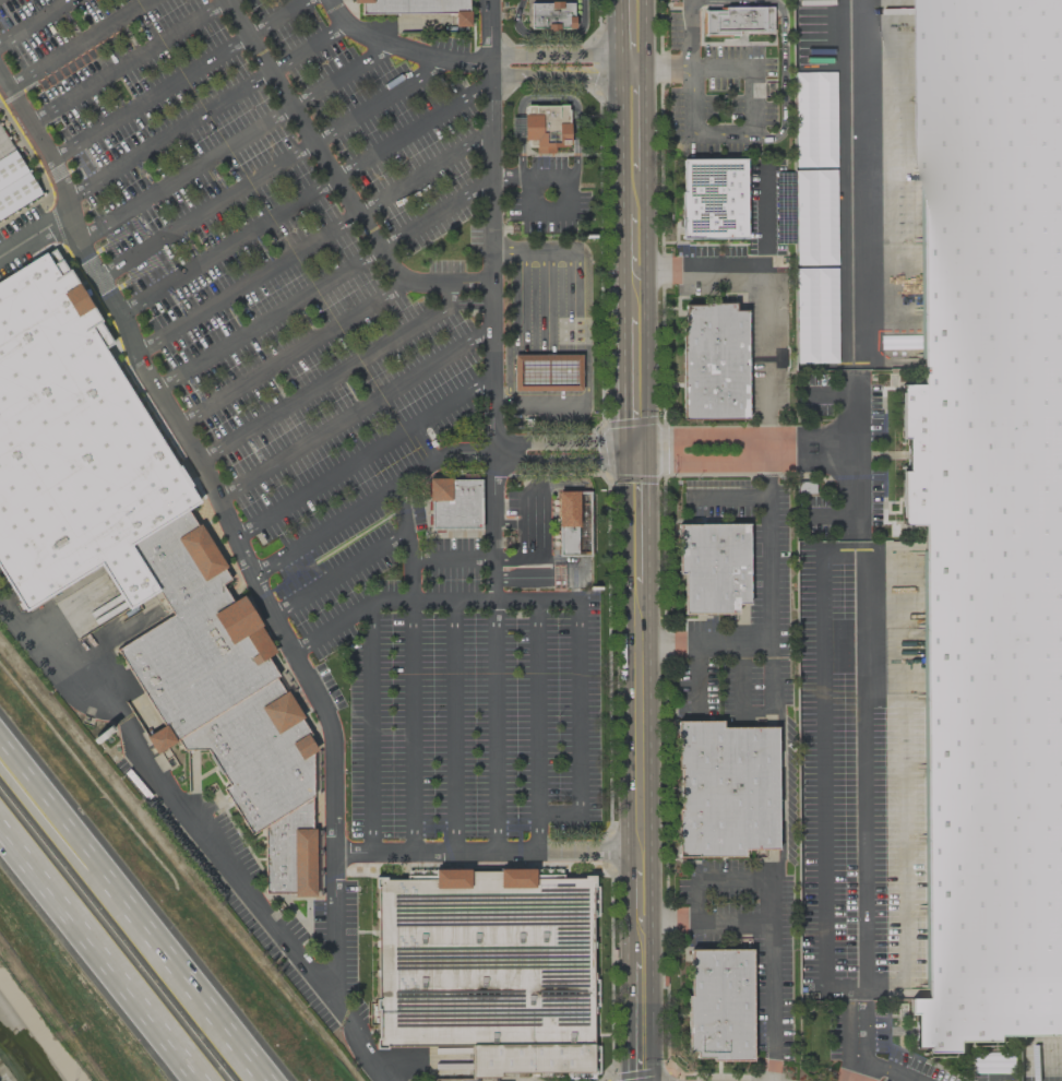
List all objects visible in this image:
road: (685, 0)
road: (718, 0)
building: (410, 7)
building: (549, 14)
building: (737, 20)
road: (34, 22)
road: (547, 33)
road: (617, 34)
road: (644, 34)
road: (75, 43)
road: (405, 44)
road: (127, 60)
road: (556, 66)
road: (754, 67)
road: (631, 68)
road: (666, 68)
road: (177, 80)
road: (783, 88)
road: (547, 99)
road: (687, 103)
road: (205, 111)
road: (645, 119)
building: (544, 127)
road: (732, 136)
road: (237, 141)
road: (619, 142)
road: (273, 164)
road: (53, 175)
building: (15, 178)
road: (336, 179)
road: (306, 195)
building: (712, 198)
road: (570, 200)
road: (314, 239)
road: (620, 241)
road: (633, 268)
road: (760, 269)
road: (324, 281)
road: (493, 290)
road: (620, 293)
road: (647, 314)
road: (589, 325)
road: (515, 326)
road: (621, 331)
road: (289, 352)
road: (769, 360)
building: (713, 361)
building: (546, 372)
gas station: (546, 372)
road: (336, 377)
road: (622, 401)
road: (355, 412)
road: (708, 436)
building: (72, 446)
road: (811, 453)
road: (362, 458)
road: (635, 458)
road: (709, 466)
road: (852, 485)
building: (804, 487)
road: (751, 496)
road: (368, 502)
building: (452, 502)
building: (990, 518)
building: (572, 521)
road: (648, 521)
road: (226, 522)
road: (451, 554)
building: (177, 561)
building: (712, 567)
road: (339, 575)
road: (408, 586)
road: (348, 616)
road: (771, 623)
building: (198, 662)
road: (692, 678)
road: (738, 689)
road: (577, 705)
road: (537, 706)
road: (624, 709)
road: (494, 715)
road: (413, 725)
road: (454, 725)
road: (369, 727)
building: (254, 755)
road: (778, 777)
building: (724, 788)
road: (651, 831)
road: (203, 833)
building: (286, 851)
road: (332, 851)
road: (711, 877)
road: (636, 891)
road: (129, 914)
road: (767, 939)
road: (99, 955)
building: (486, 969)
building: (718, 1003)
road: (625, 1021)
road: (875, 1065)

